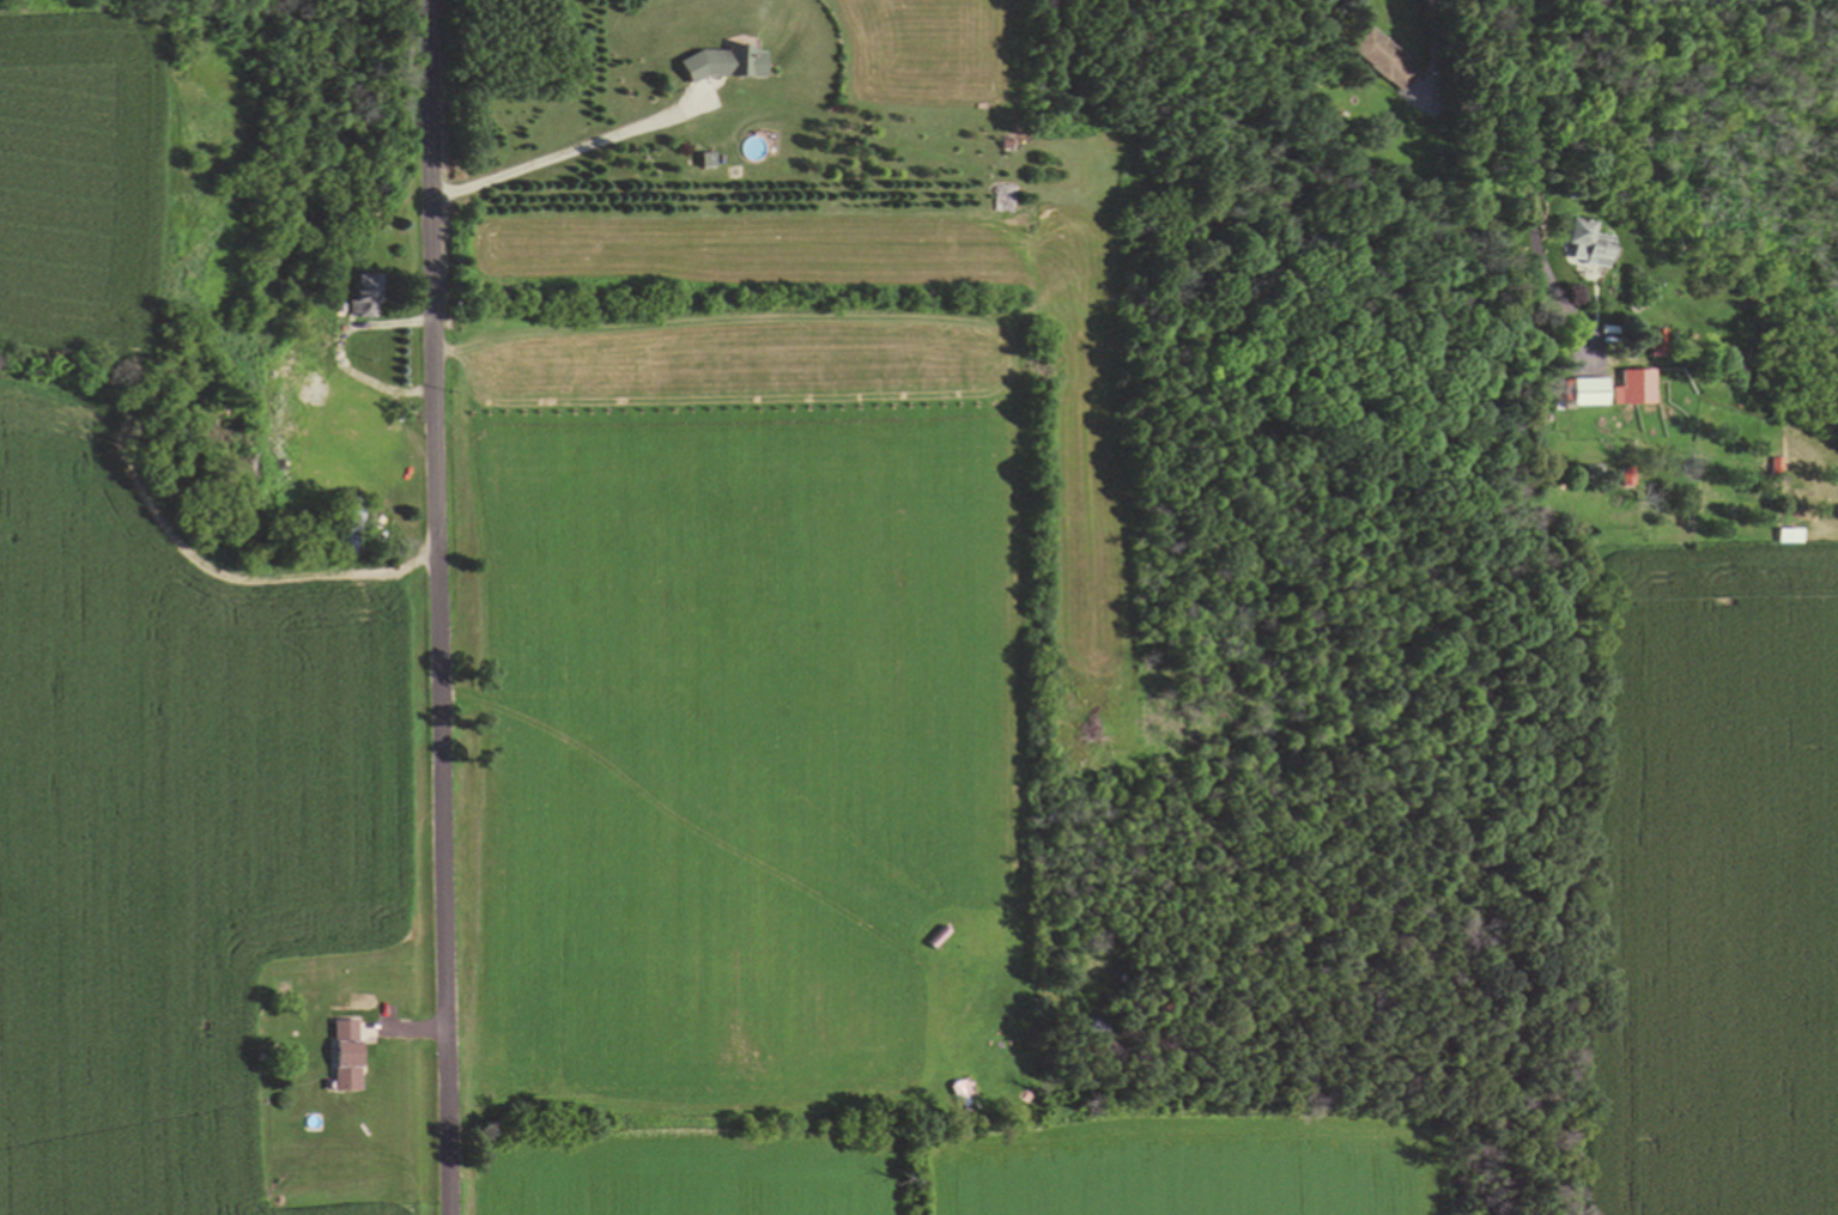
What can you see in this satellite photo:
building: (1378, 56)
building: (722, 61)
road: (560, 153)
building: (1017, 214)
building: (1587, 241)
building: (360, 294)
building: (1637, 387)
building: (1588, 391)
building: (328, 435)
building: (347, 524)
building: (1788, 535)
road: (439, 607)
building: (1066, 700)
building: (346, 1056)

